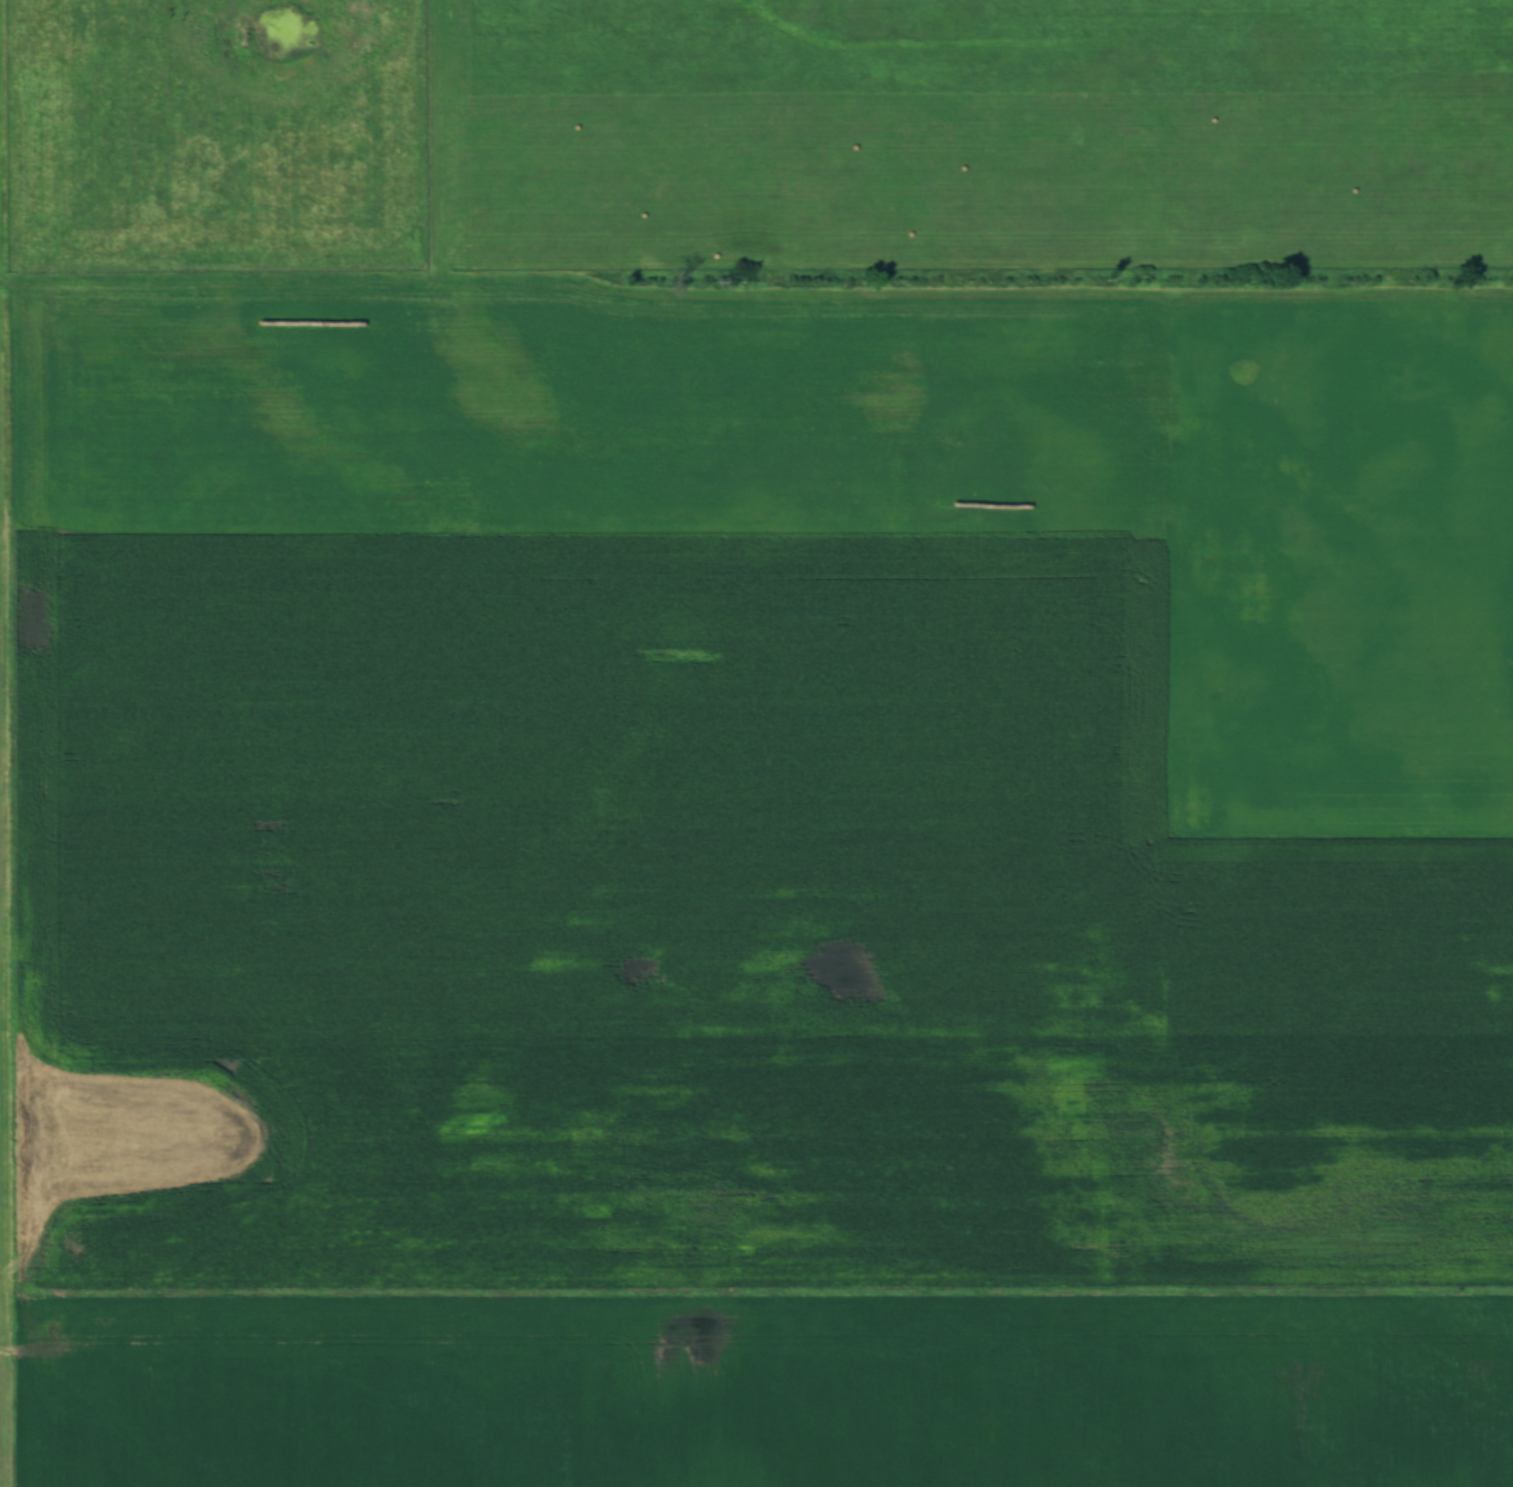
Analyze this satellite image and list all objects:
road: (756, 279)

